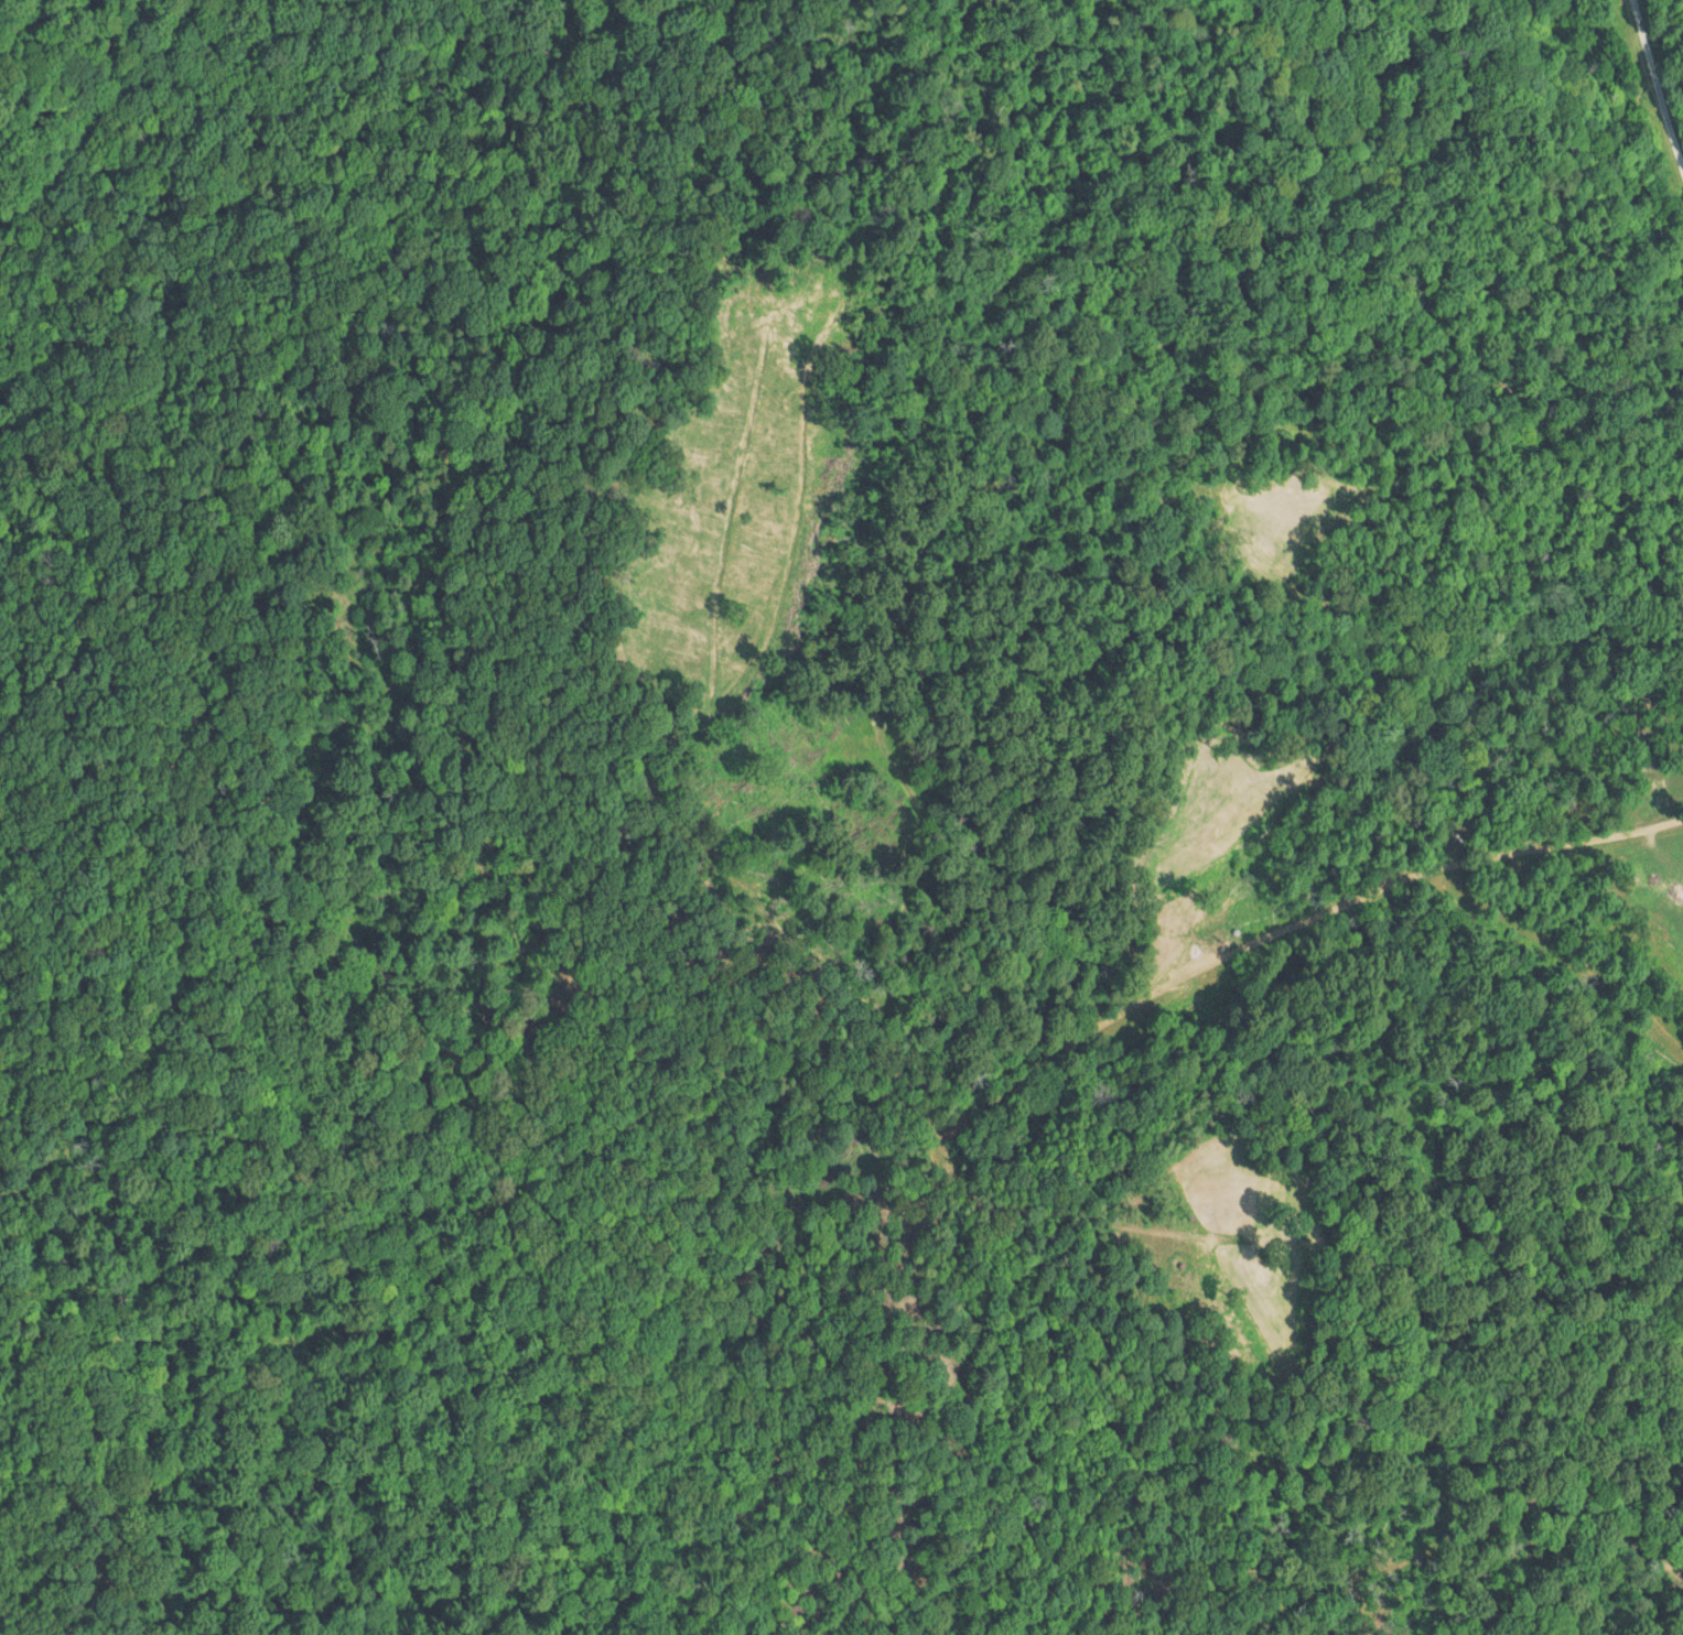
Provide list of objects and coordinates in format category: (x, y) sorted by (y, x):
road: (1658, 84)

